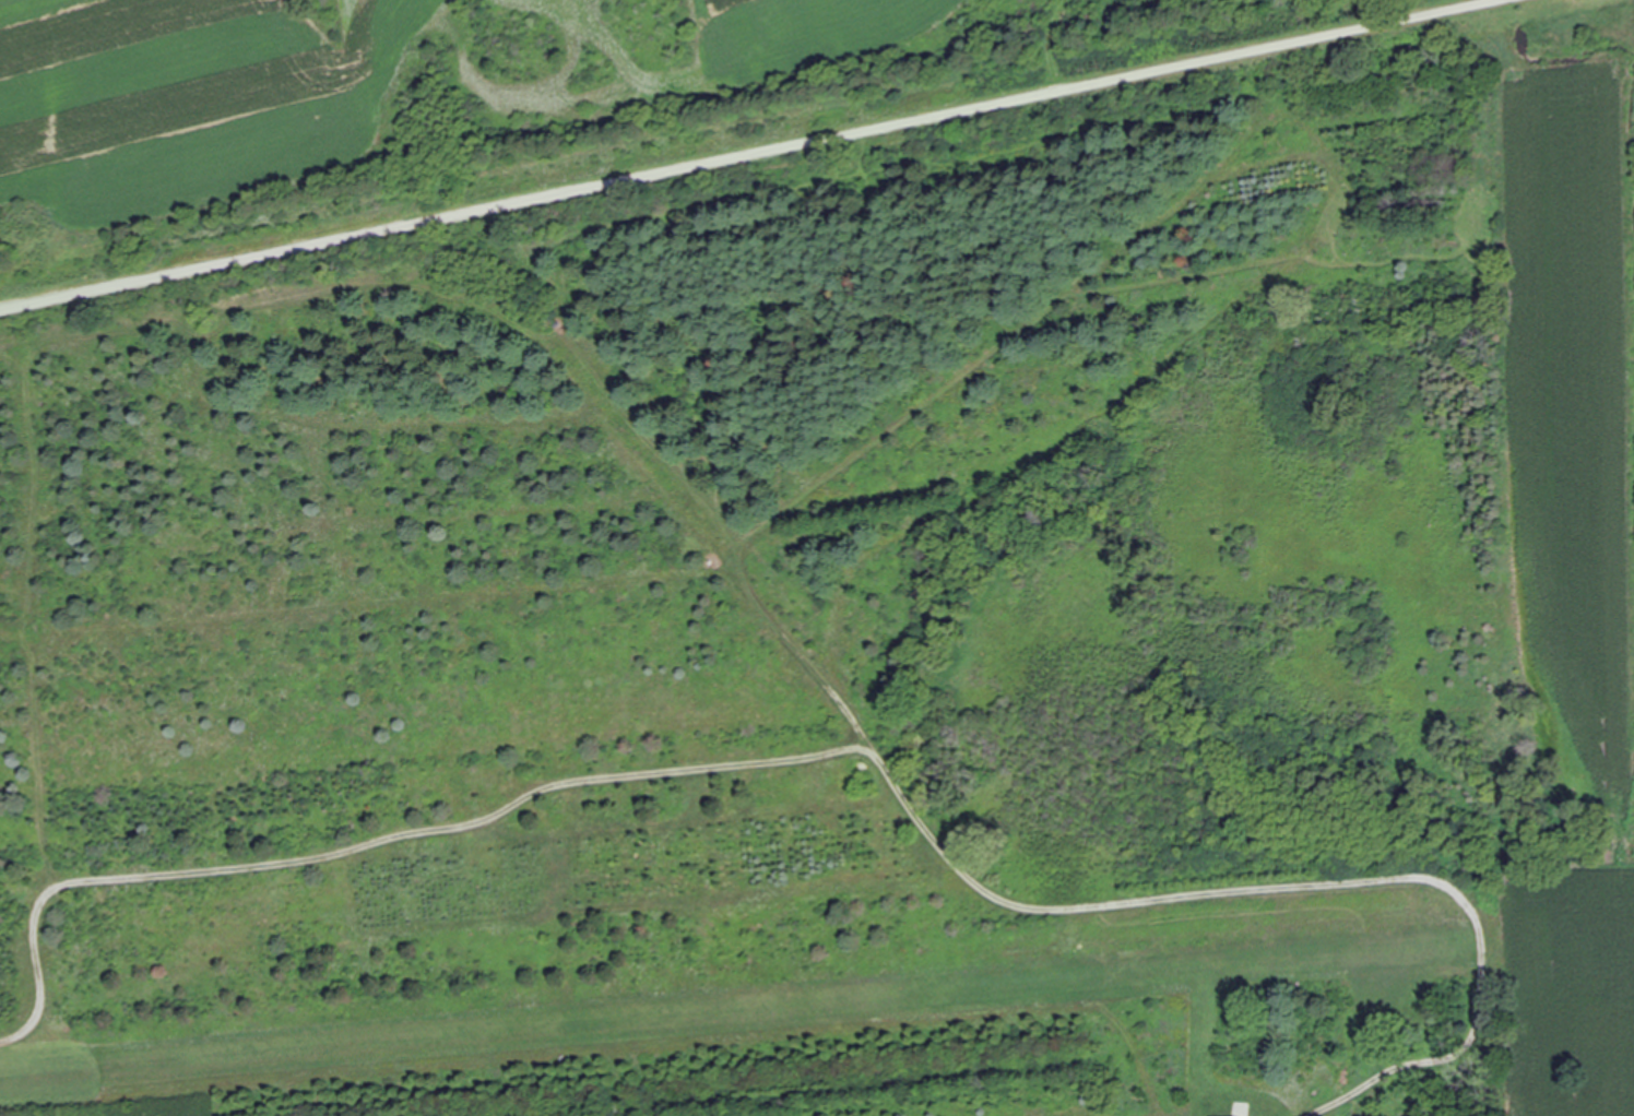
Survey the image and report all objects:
road: (746, 154)
airport runway: (712, 1016)

